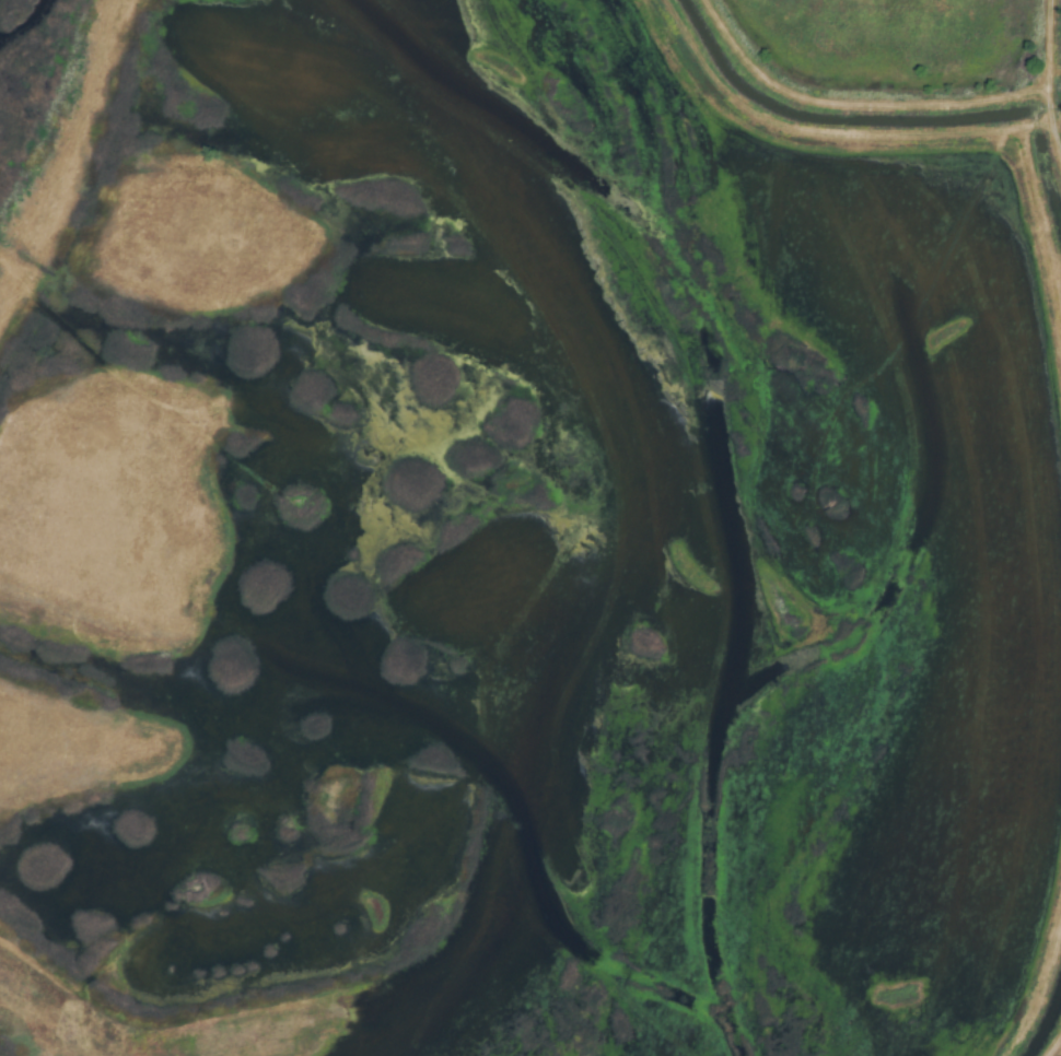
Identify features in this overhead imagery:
road: (1054, 1047)

